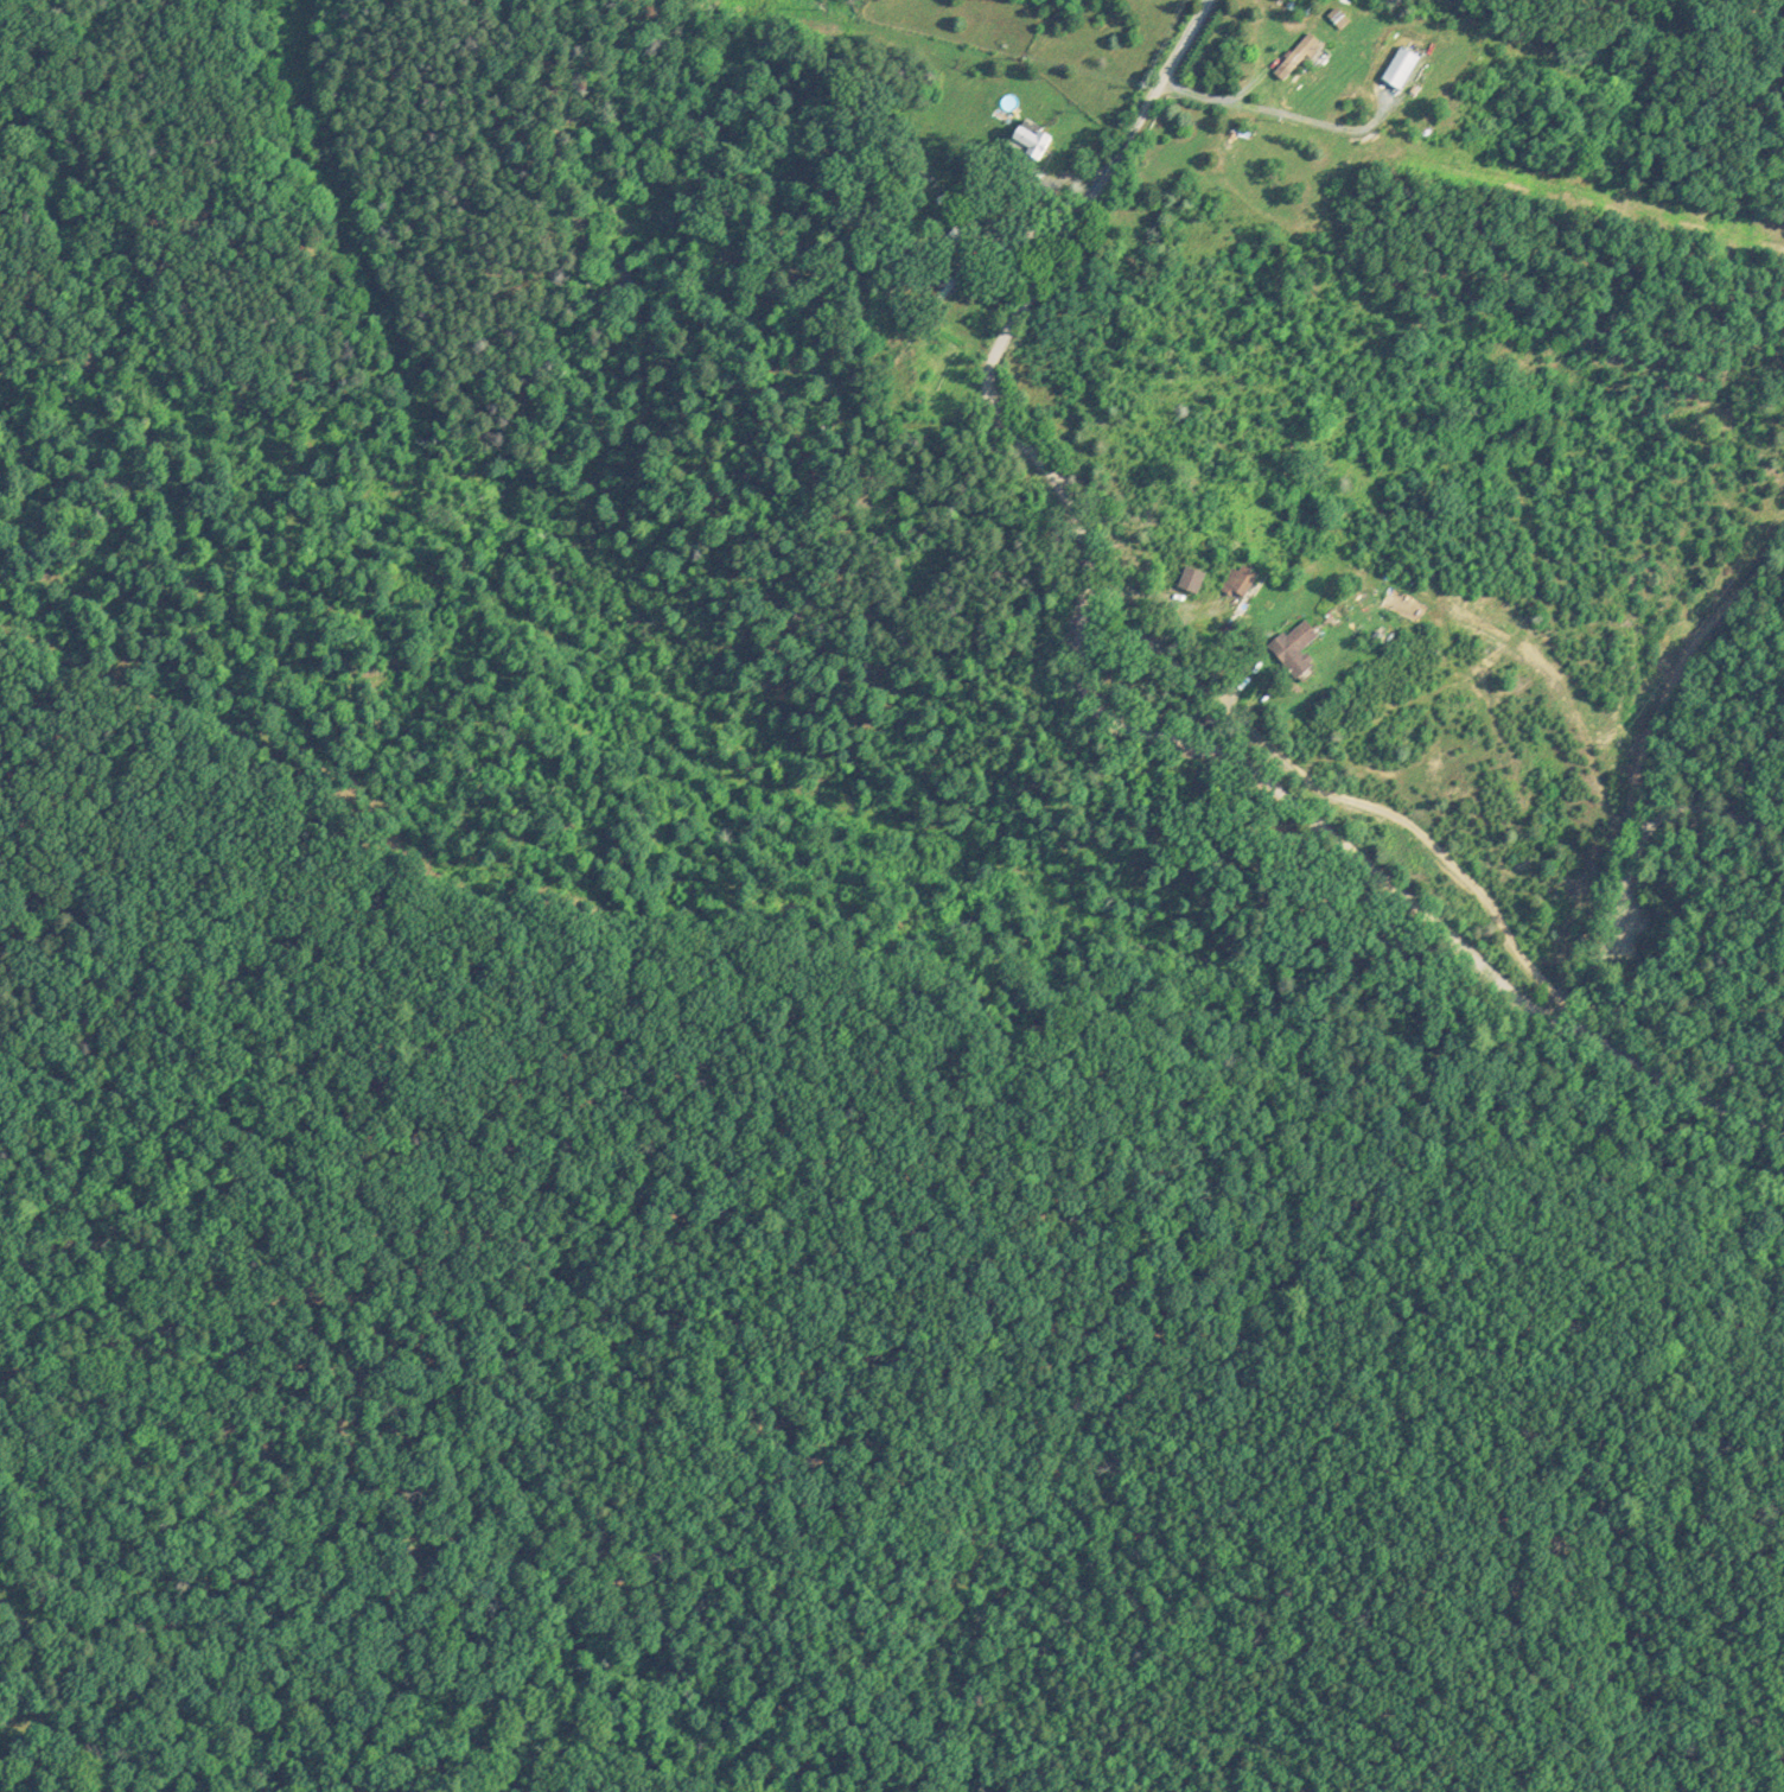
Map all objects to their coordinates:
building: (1294, 55)
building: (1397, 65)
building: (1027, 141)
building: (1190, 576)
building: (1237, 578)
building: (1293, 648)
road: (1152, 697)

